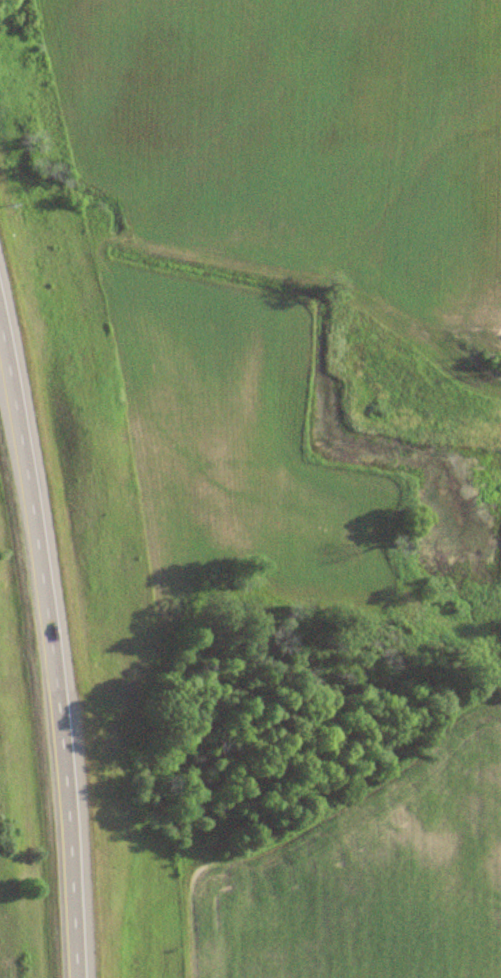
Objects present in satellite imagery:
road: (2, 351)
road: (49, 651)

